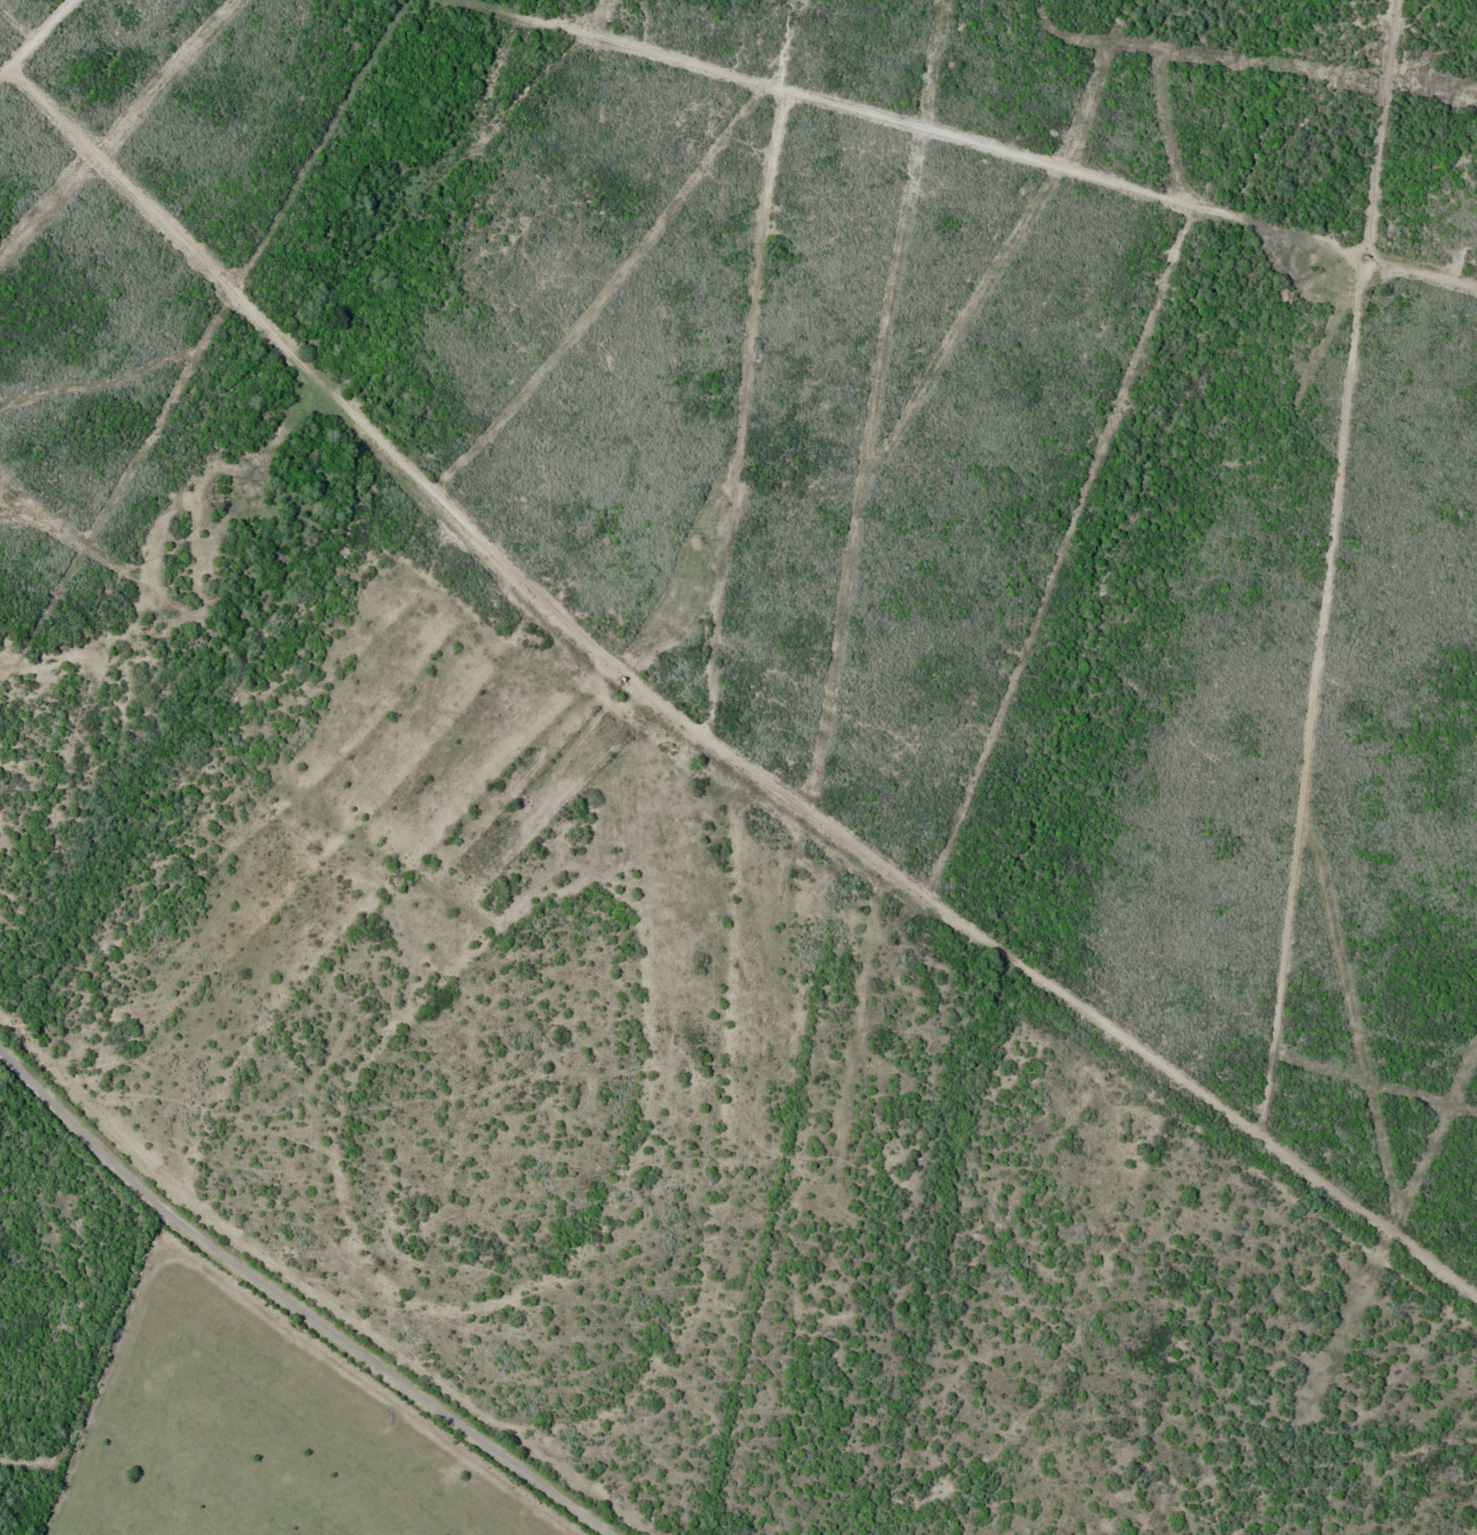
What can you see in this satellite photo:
road: (292, 1307)

